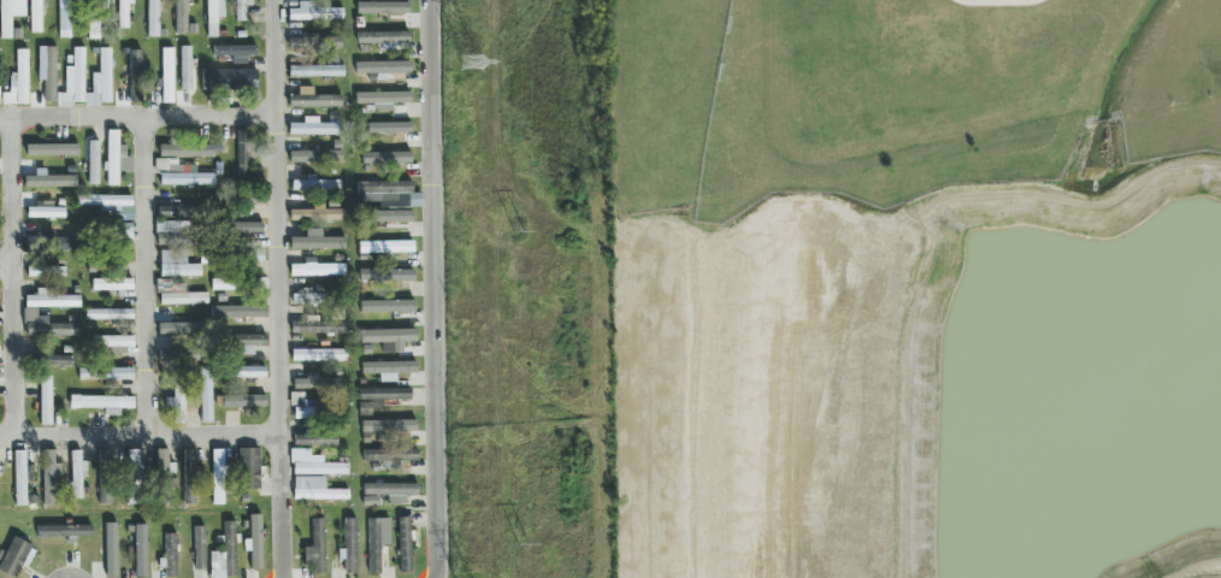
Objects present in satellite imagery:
building: (383, 8)
building: (242, 10)
road: (998, 11)
building: (314, 12)
building: (124, 13)
building: (10, 14)
building: (36, 16)
building: (214, 16)
building: (95, 17)
building: (153, 18)
building: (64, 19)
building: (183, 19)
building: (383, 39)
building: (314, 42)
building: (236, 53)
power tower: (473, 64)
building: (185, 67)
building: (382, 69)
building: (48, 71)
building: (317, 71)
building: (167, 76)
building: (134, 77)
building: (229, 79)
building: (75, 81)
building: (18, 82)
building: (101, 82)
building: (313, 100)
building: (382, 100)
road: (140, 118)
building: (315, 126)
building: (389, 128)
building: (52, 149)
building: (187, 151)
building: (243, 154)
building: (315, 157)
building: (117, 158)
building: (387, 158)
building: (94, 163)
building: (188, 177)
building: (48, 179)
building: (315, 184)
building: (389, 194)
building: (110, 205)
building: (45, 211)
building: (177, 211)
building: (318, 214)
building: (391, 216)
building: (248, 228)
building: (173, 232)
building: (315, 241)
building: (385, 246)
building: (254, 255)
road: (6, 264)
building: (176, 264)
building: (317, 269)
building: (46, 271)
road: (149, 276)
building: (388, 277)
road: (13, 278)
building: (112, 284)
building: (224, 284)
road: (281, 289)
road: (435, 289)
building: (183, 297)
building: (306, 297)
building: (51, 299)
building: (388, 306)
building: (236, 311)
building: (108, 314)
building: (319, 324)
building: (49, 328)
building: (178, 328)
building: (388, 338)
building: (112, 343)
building: (246, 343)
building: (318, 354)
building: (59, 360)
building: (388, 368)
building: (247, 371)
building: (105, 373)
building: (317, 382)
building: (384, 394)
building: (205, 395)
building: (45, 400)
building: (244, 401)
building: (102, 403)
building: (301, 407)
building: (365, 408)
building: (389, 425)
road: (140, 435)
building: (315, 440)
building: (390, 456)
building: (106, 458)
building: (163, 460)
building: (314, 464)
building: (249, 468)
building: (77, 473)
building: (48, 476)
building: (134, 476)
building: (189, 476)
building: (22, 477)
building: (218, 477)
building: (315, 489)
building: (388, 493)
building: (63, 531)
building: (255, 542)
building: (377, 542)
building: (405, 544)
building: (350, 545)
building: (110, 548)
building: (200, 548)
building: (315, 548)
building: (140, 550)
building: (225, 554)
building: (171, 555)
building: (16, 556)

